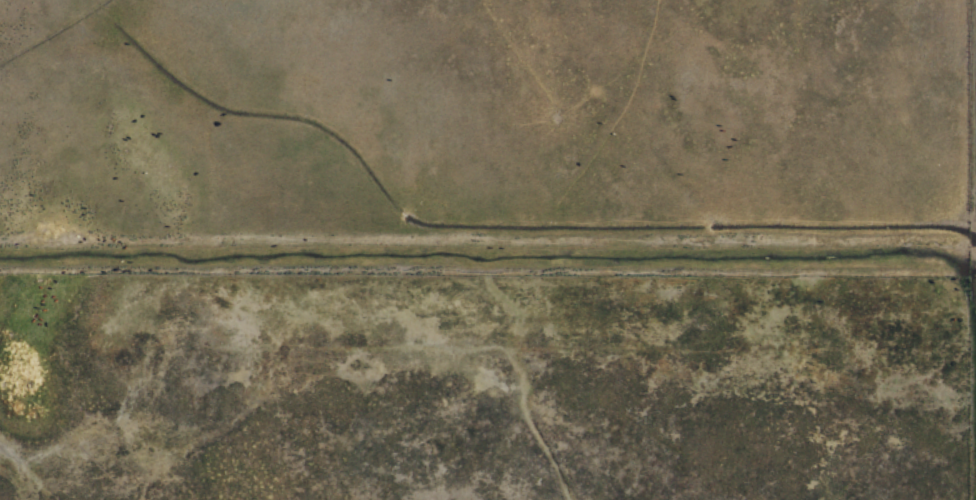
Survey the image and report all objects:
crop: (488, 250)

